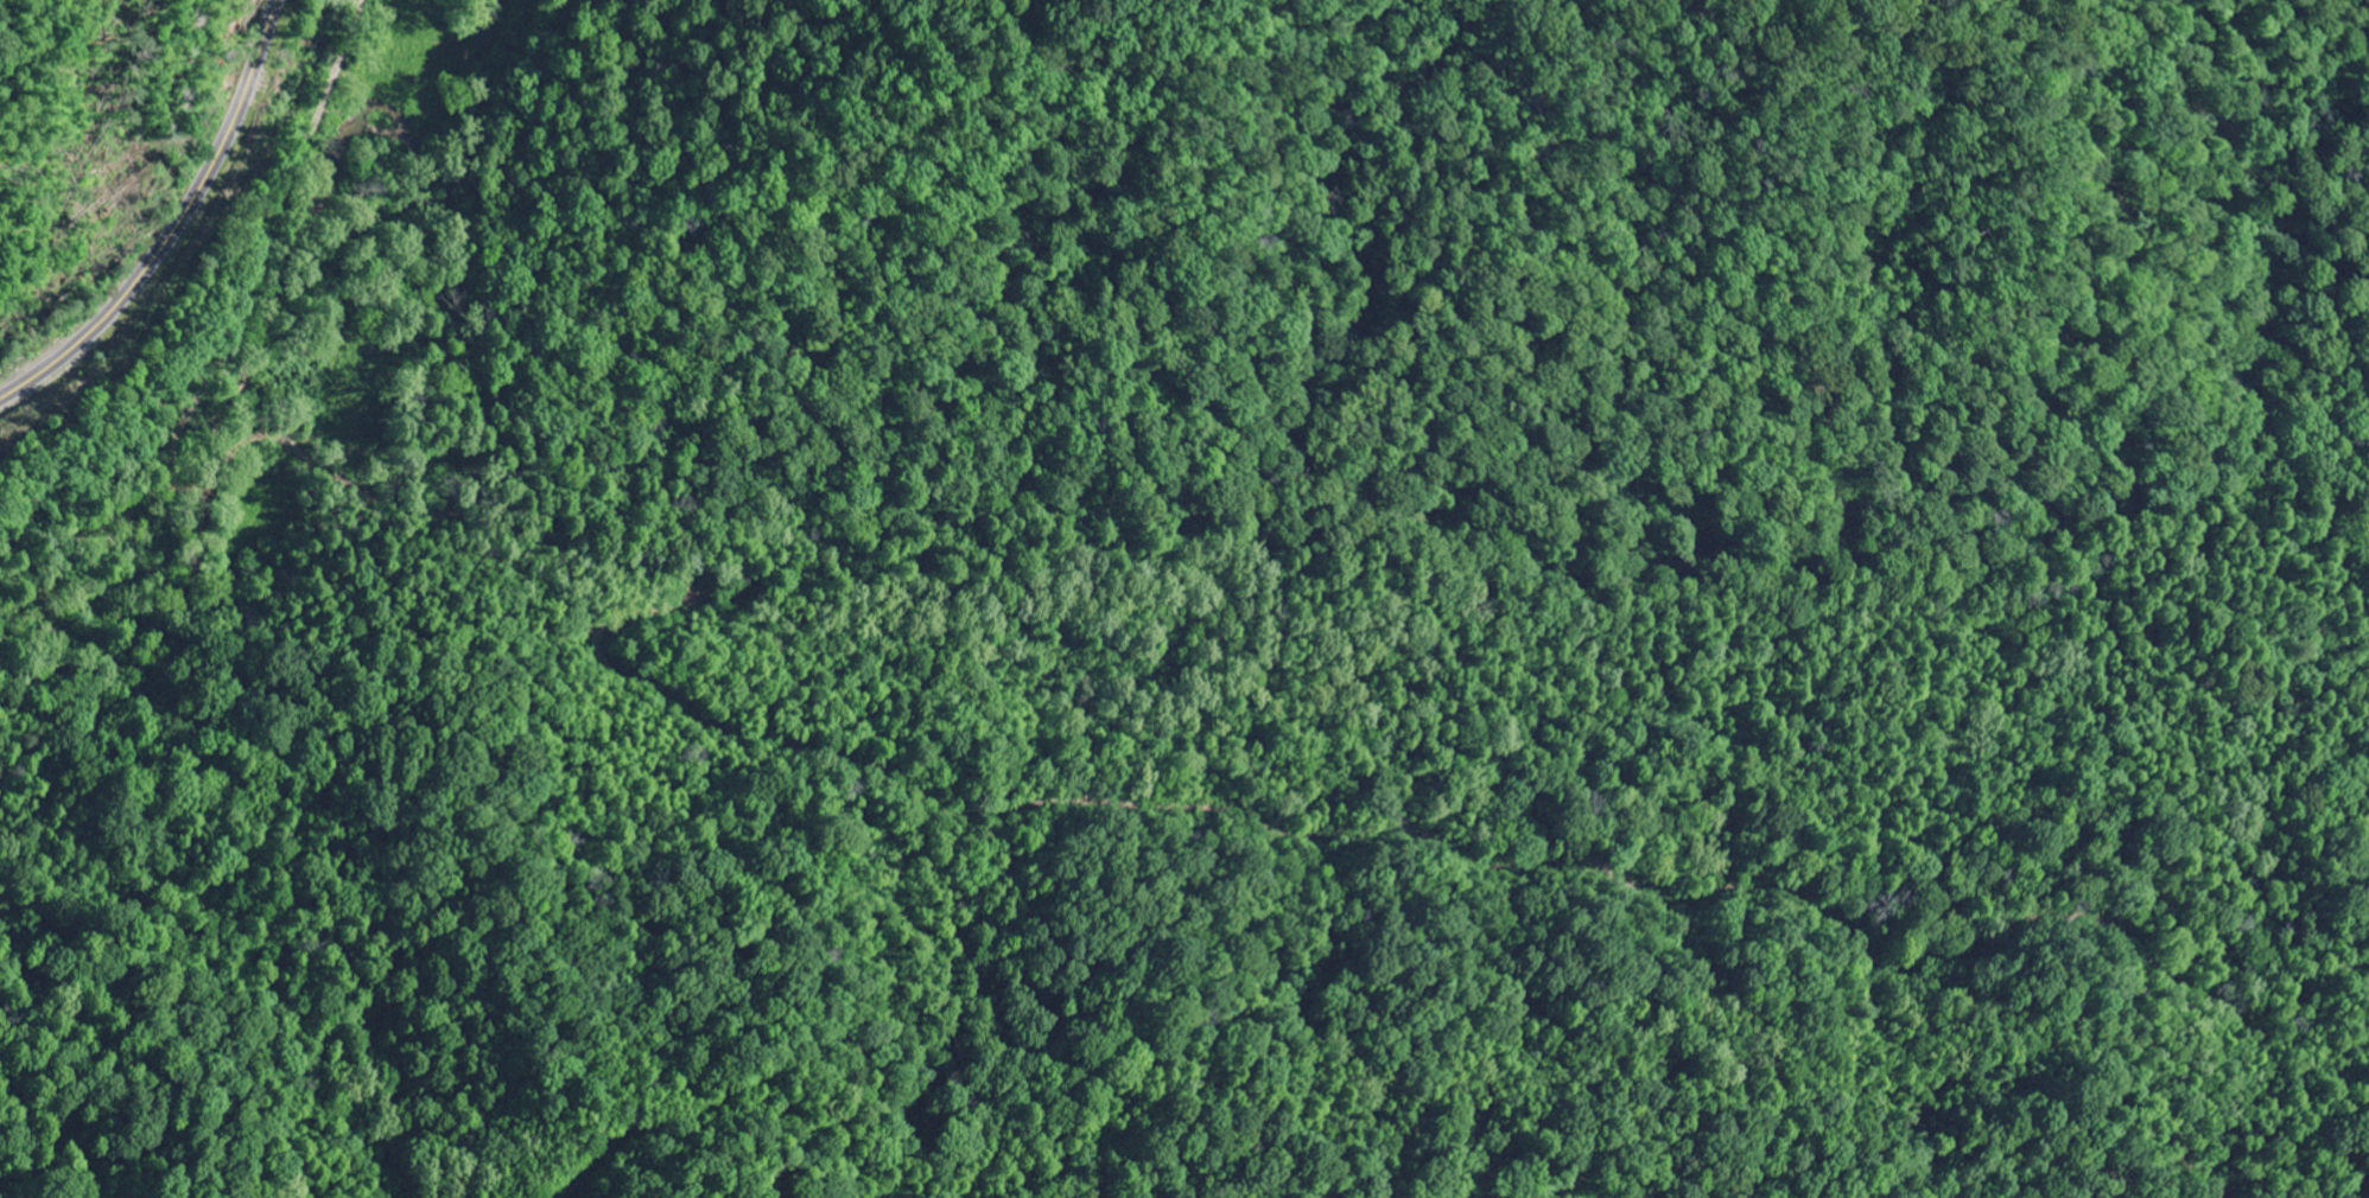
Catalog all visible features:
road: (174, 225)

